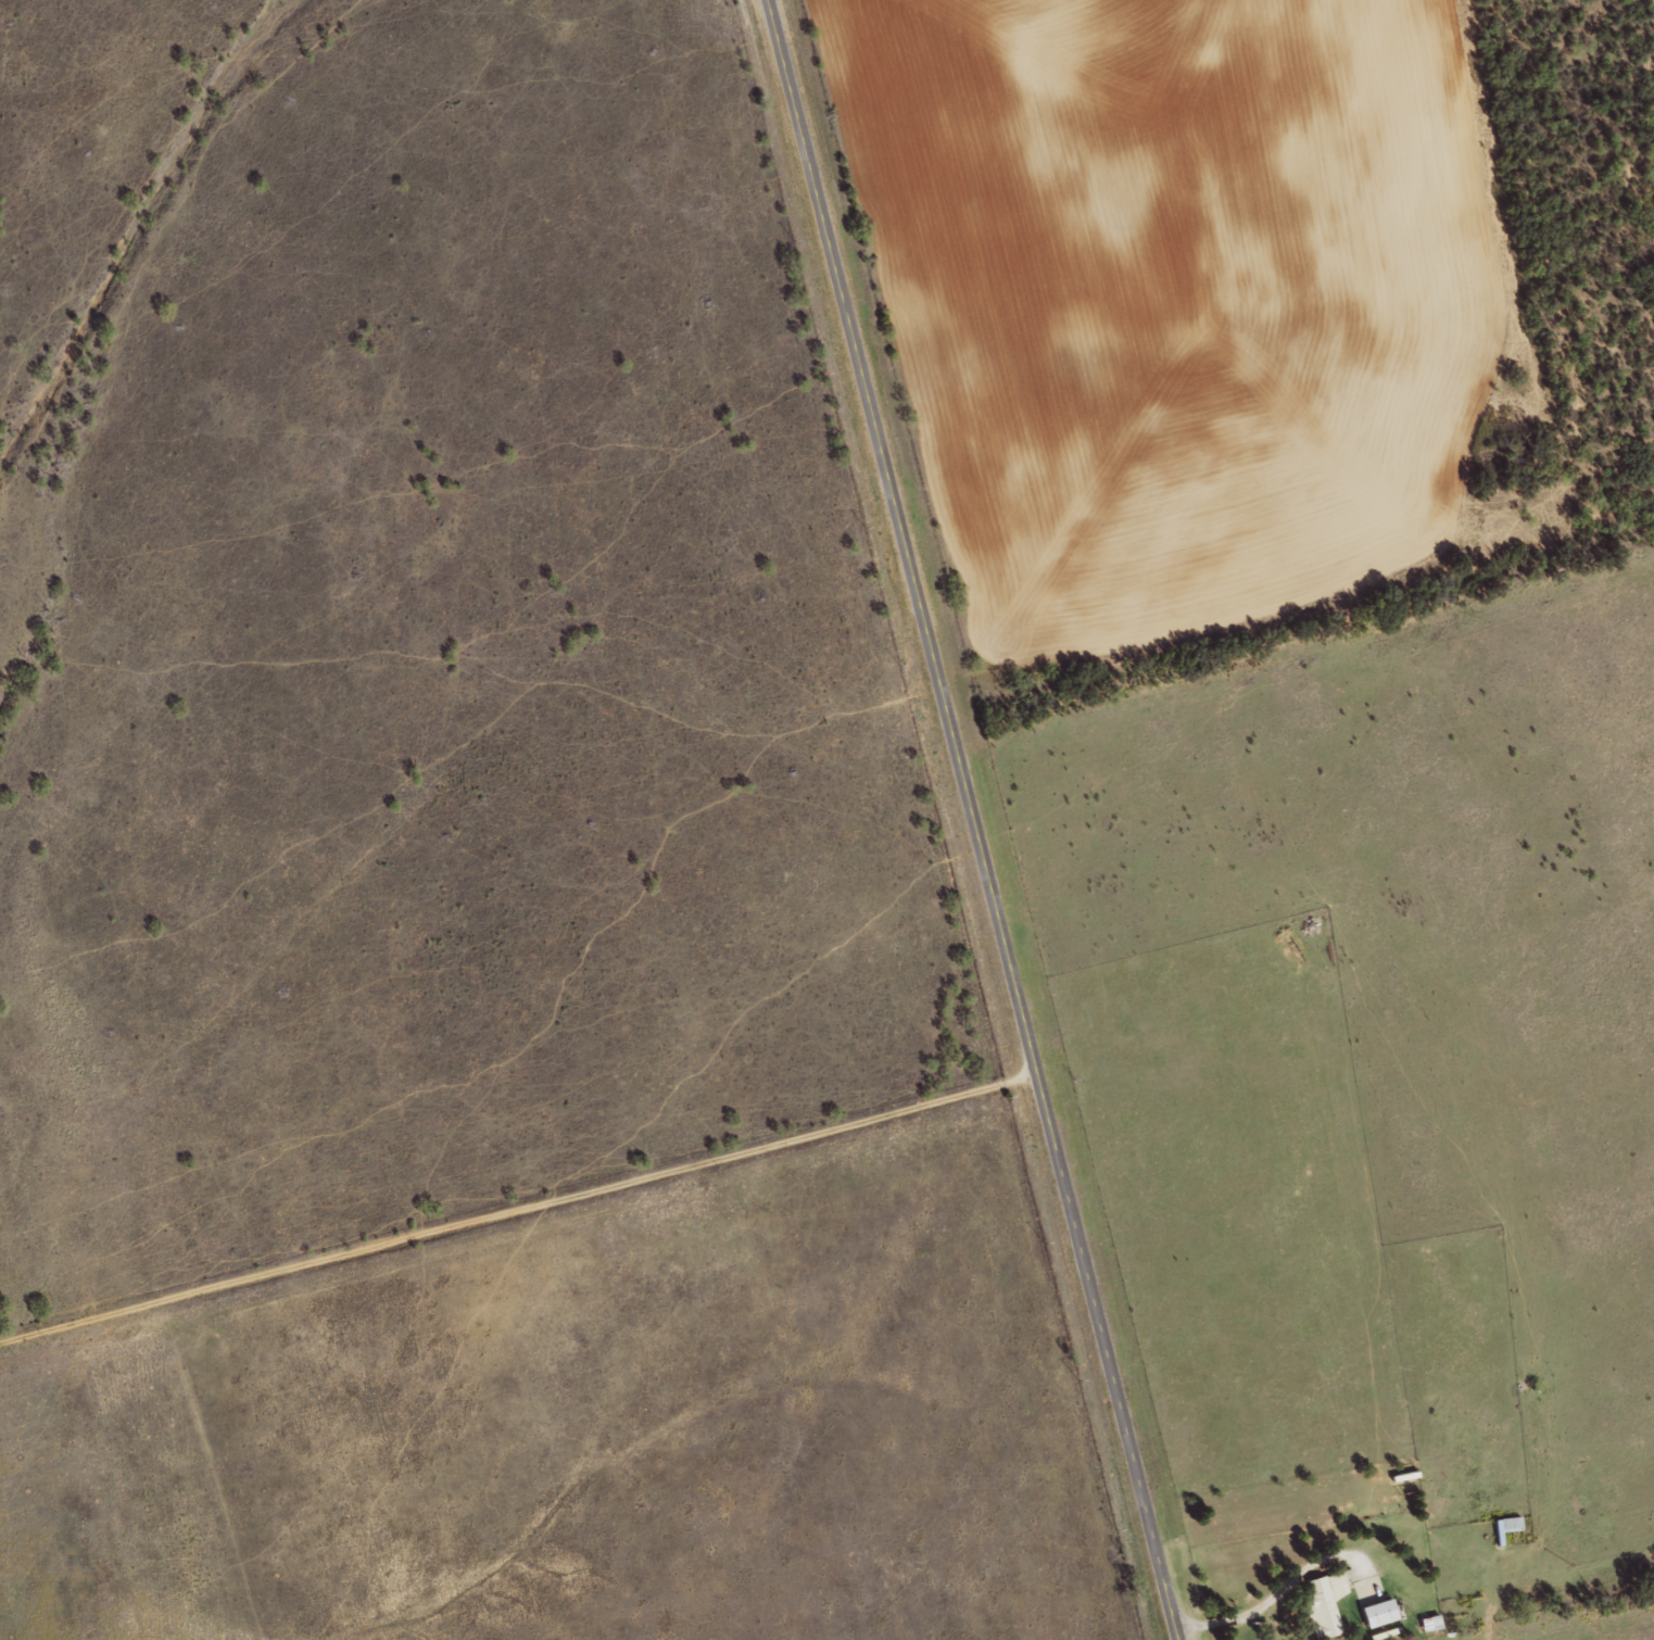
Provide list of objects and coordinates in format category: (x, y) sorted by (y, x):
road: (969, 820)
road: (516, 1222)
building: (1381, 1612)

